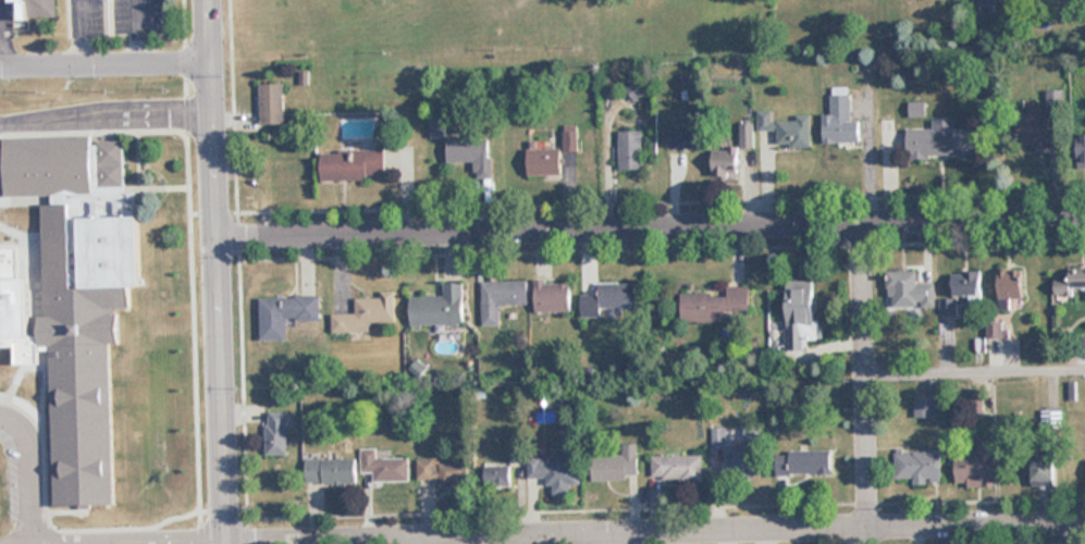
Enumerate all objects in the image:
building: (39, 9)
road: (81, 33)
road: (137, 33)
road: (106, 65)
building: (636, 88)
building: (273, 103)
building: (917, 110)
road: (107, 115)
building: (1039, 120)
building: (841, 122)
building: (787, 128)
building: (747, 134)
building: (682, 137)
building: (939, 139)
building: (630, 149)
building: (1082, 152)
building: (471, 153)
building: (726, 160)
building: (545, 161)
building: (353, 164)
building: (285, 183)
road: (652, 228)
road: (220, 272)
building: (967, 284)
building: (1071, 284)
building: (1012, 285)
building: (910, 290)
building: (81, 294)
building: (553, 295)
building: (502, 298)
building: (609, 298)
building: (718, 305)
building: (440, 306)
building: (367, 313)
building: (801, 313)
building: (285, 314)
road: (975, 359)
road: (866, 384)
building: (276, 434)
building: (738, 456)
building: (807, 463)
building: (617, 465)
building: (384, 466)
building: (917, 466)
building: (977, 466)
building: (678, 468)
building: (331, 471)
road: (27, 472)
building: (445, 472)
building: (1044, 472)
building: (556, 473)
building: (497, 475)
road: (658, 531)
road: (188, 542)

